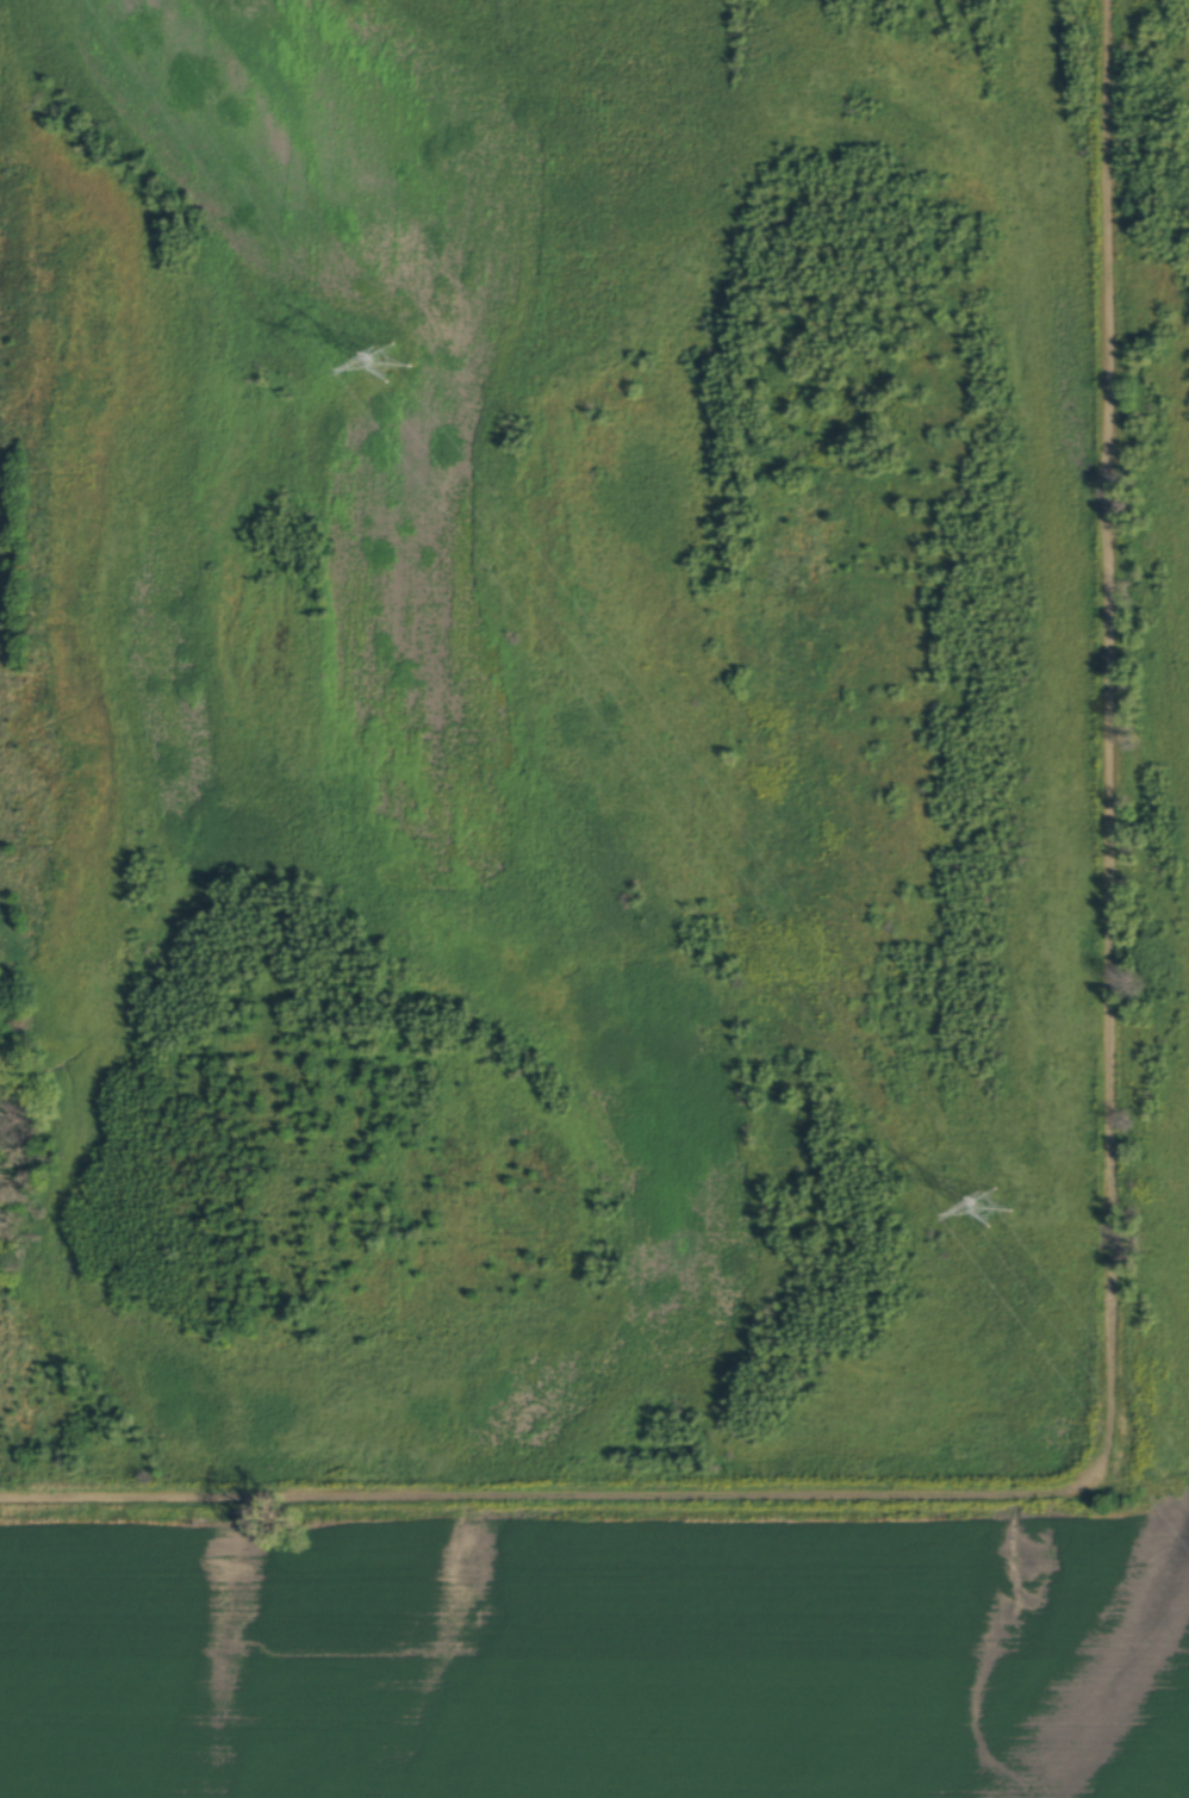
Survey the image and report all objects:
power tower: (393, 367)
road: (1113, 757)
power tower: (994, 1206)
road: (550, 1503)

